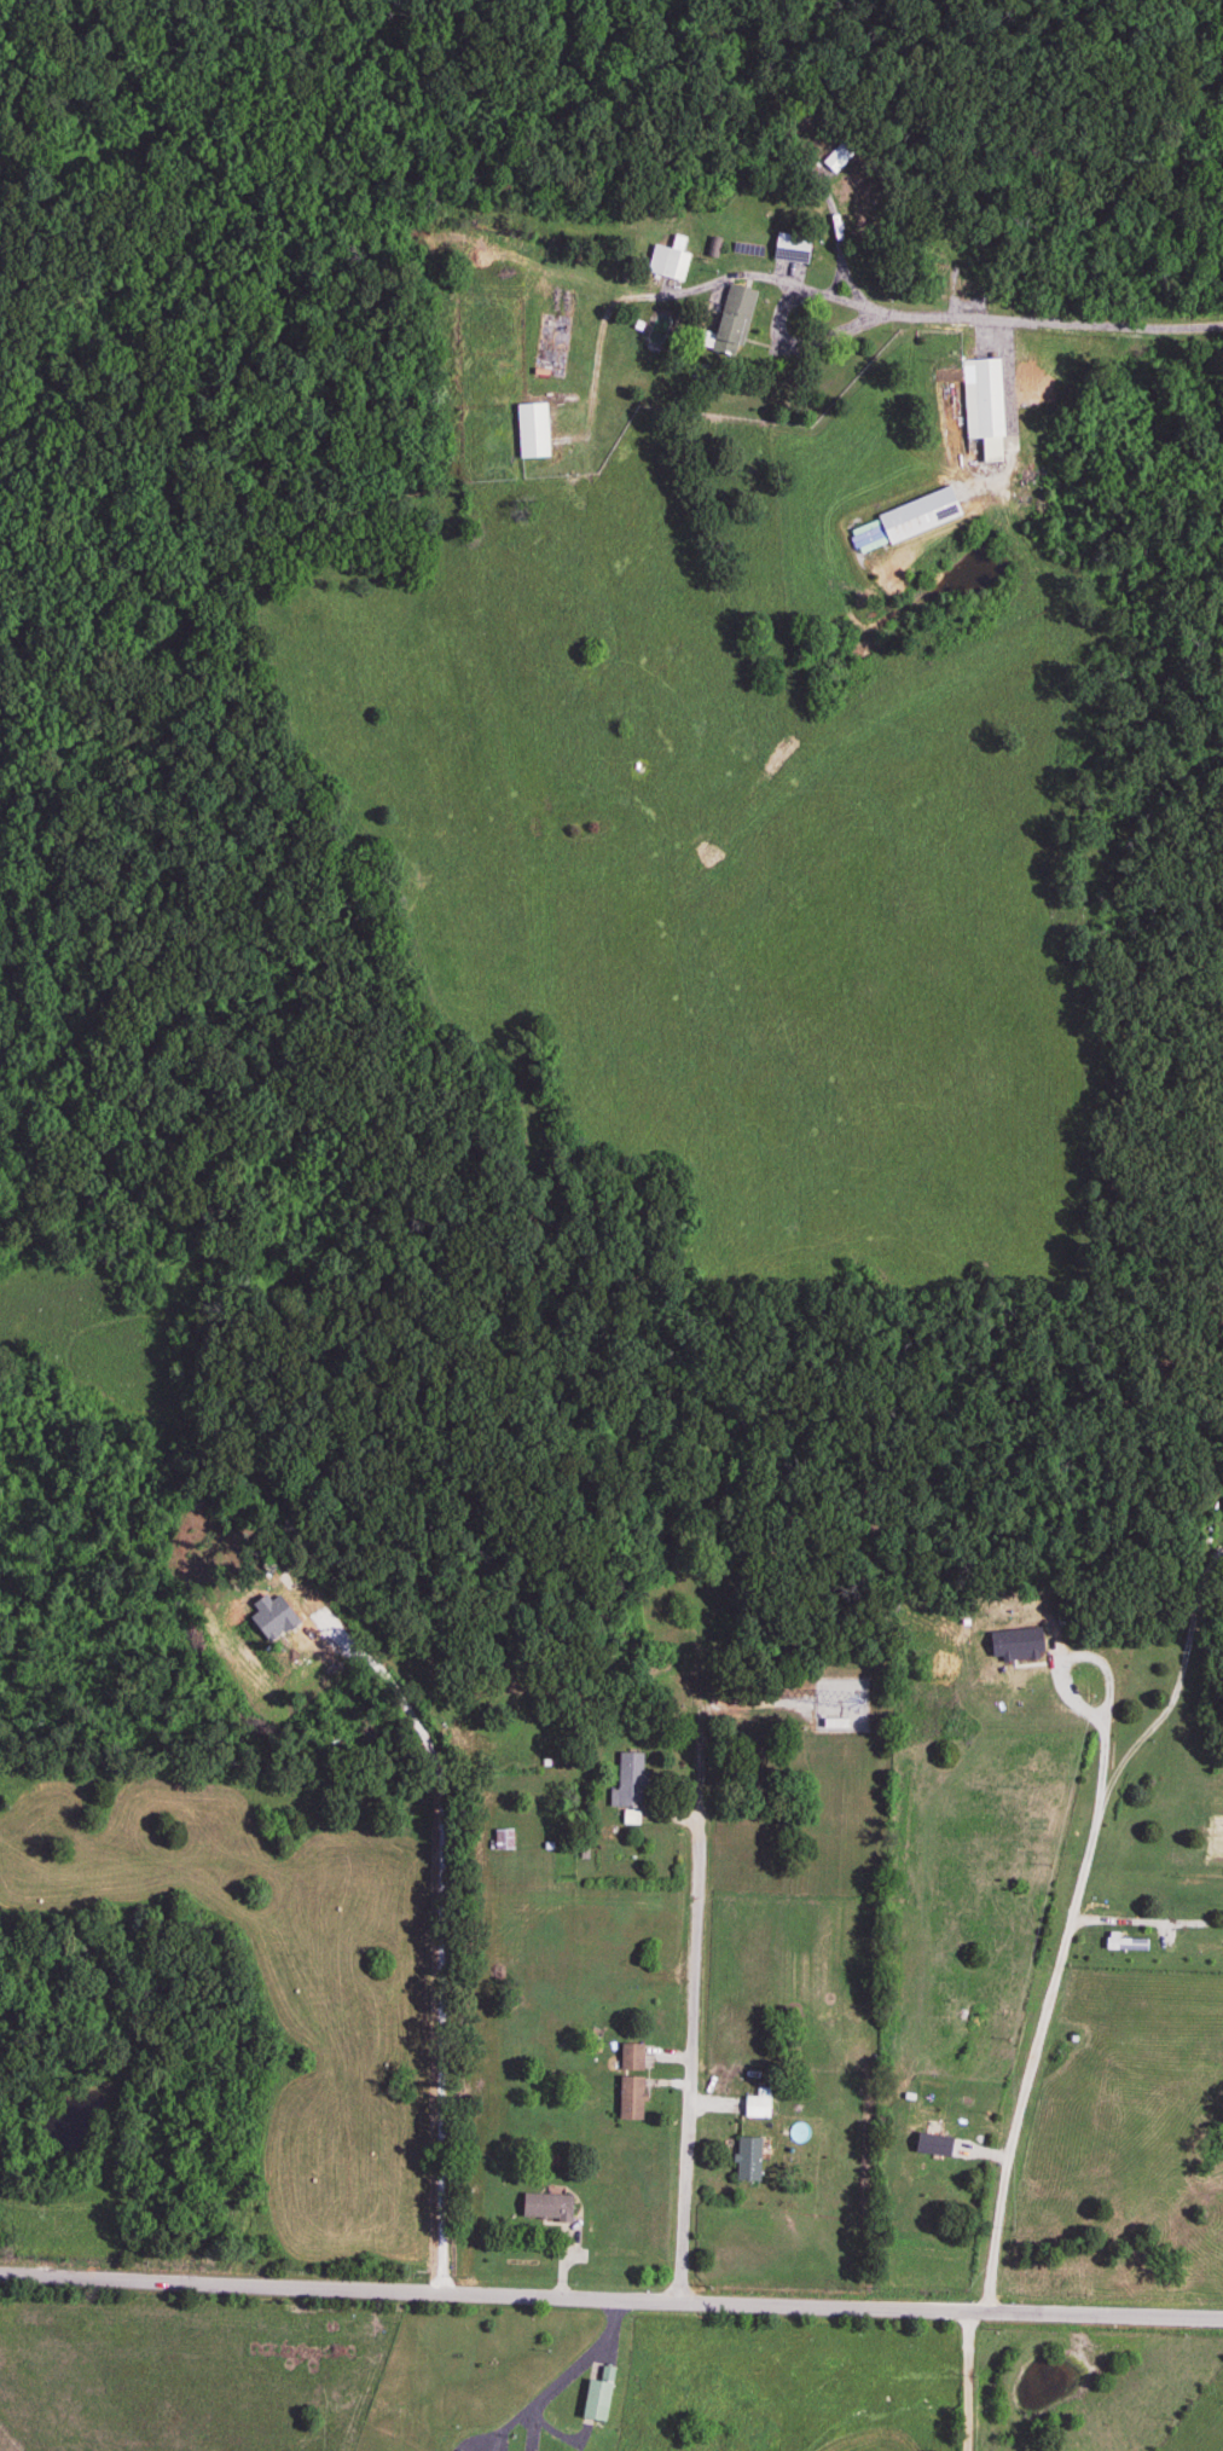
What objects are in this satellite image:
building: (844, 152)
building: (663, 263)
road: (874, 306)
building: (732, 317)
road: (1121, 324)
building: (975, 395)
road: (753, 412)
building: (531, 431)
building: (902, 523)
building: (627, 1780)
building: (502, 1839)
road: (1056, 1972)
road: (424, 2010)
road: (689, 2052)
building: (628, 2057)
building: (628, 2098)
building: (755, 2105)
building: (744, 2160)
building: (544, 2208)
road: (610, 2296)
road: (562, 2376)
road: (968, 2380)
building: (595, 2395)
road: (531, 2427)

